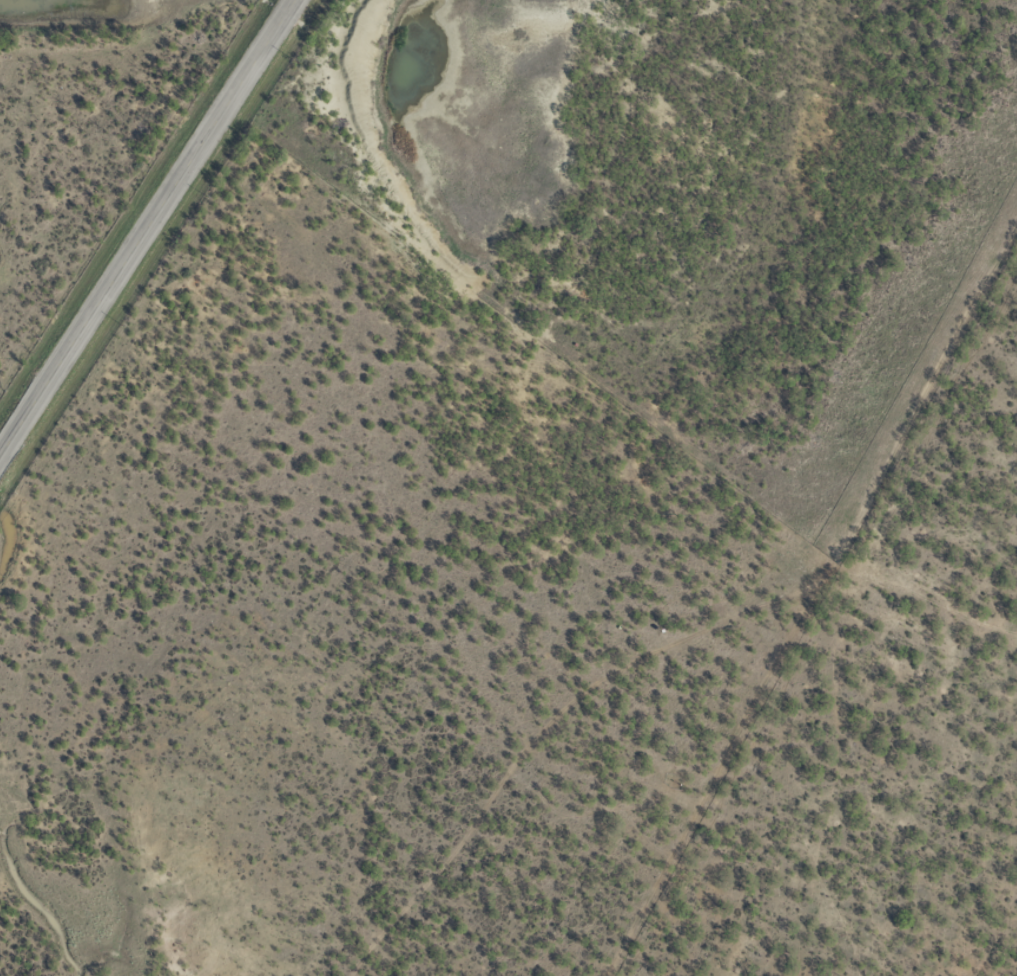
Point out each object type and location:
road: (149, 228)

